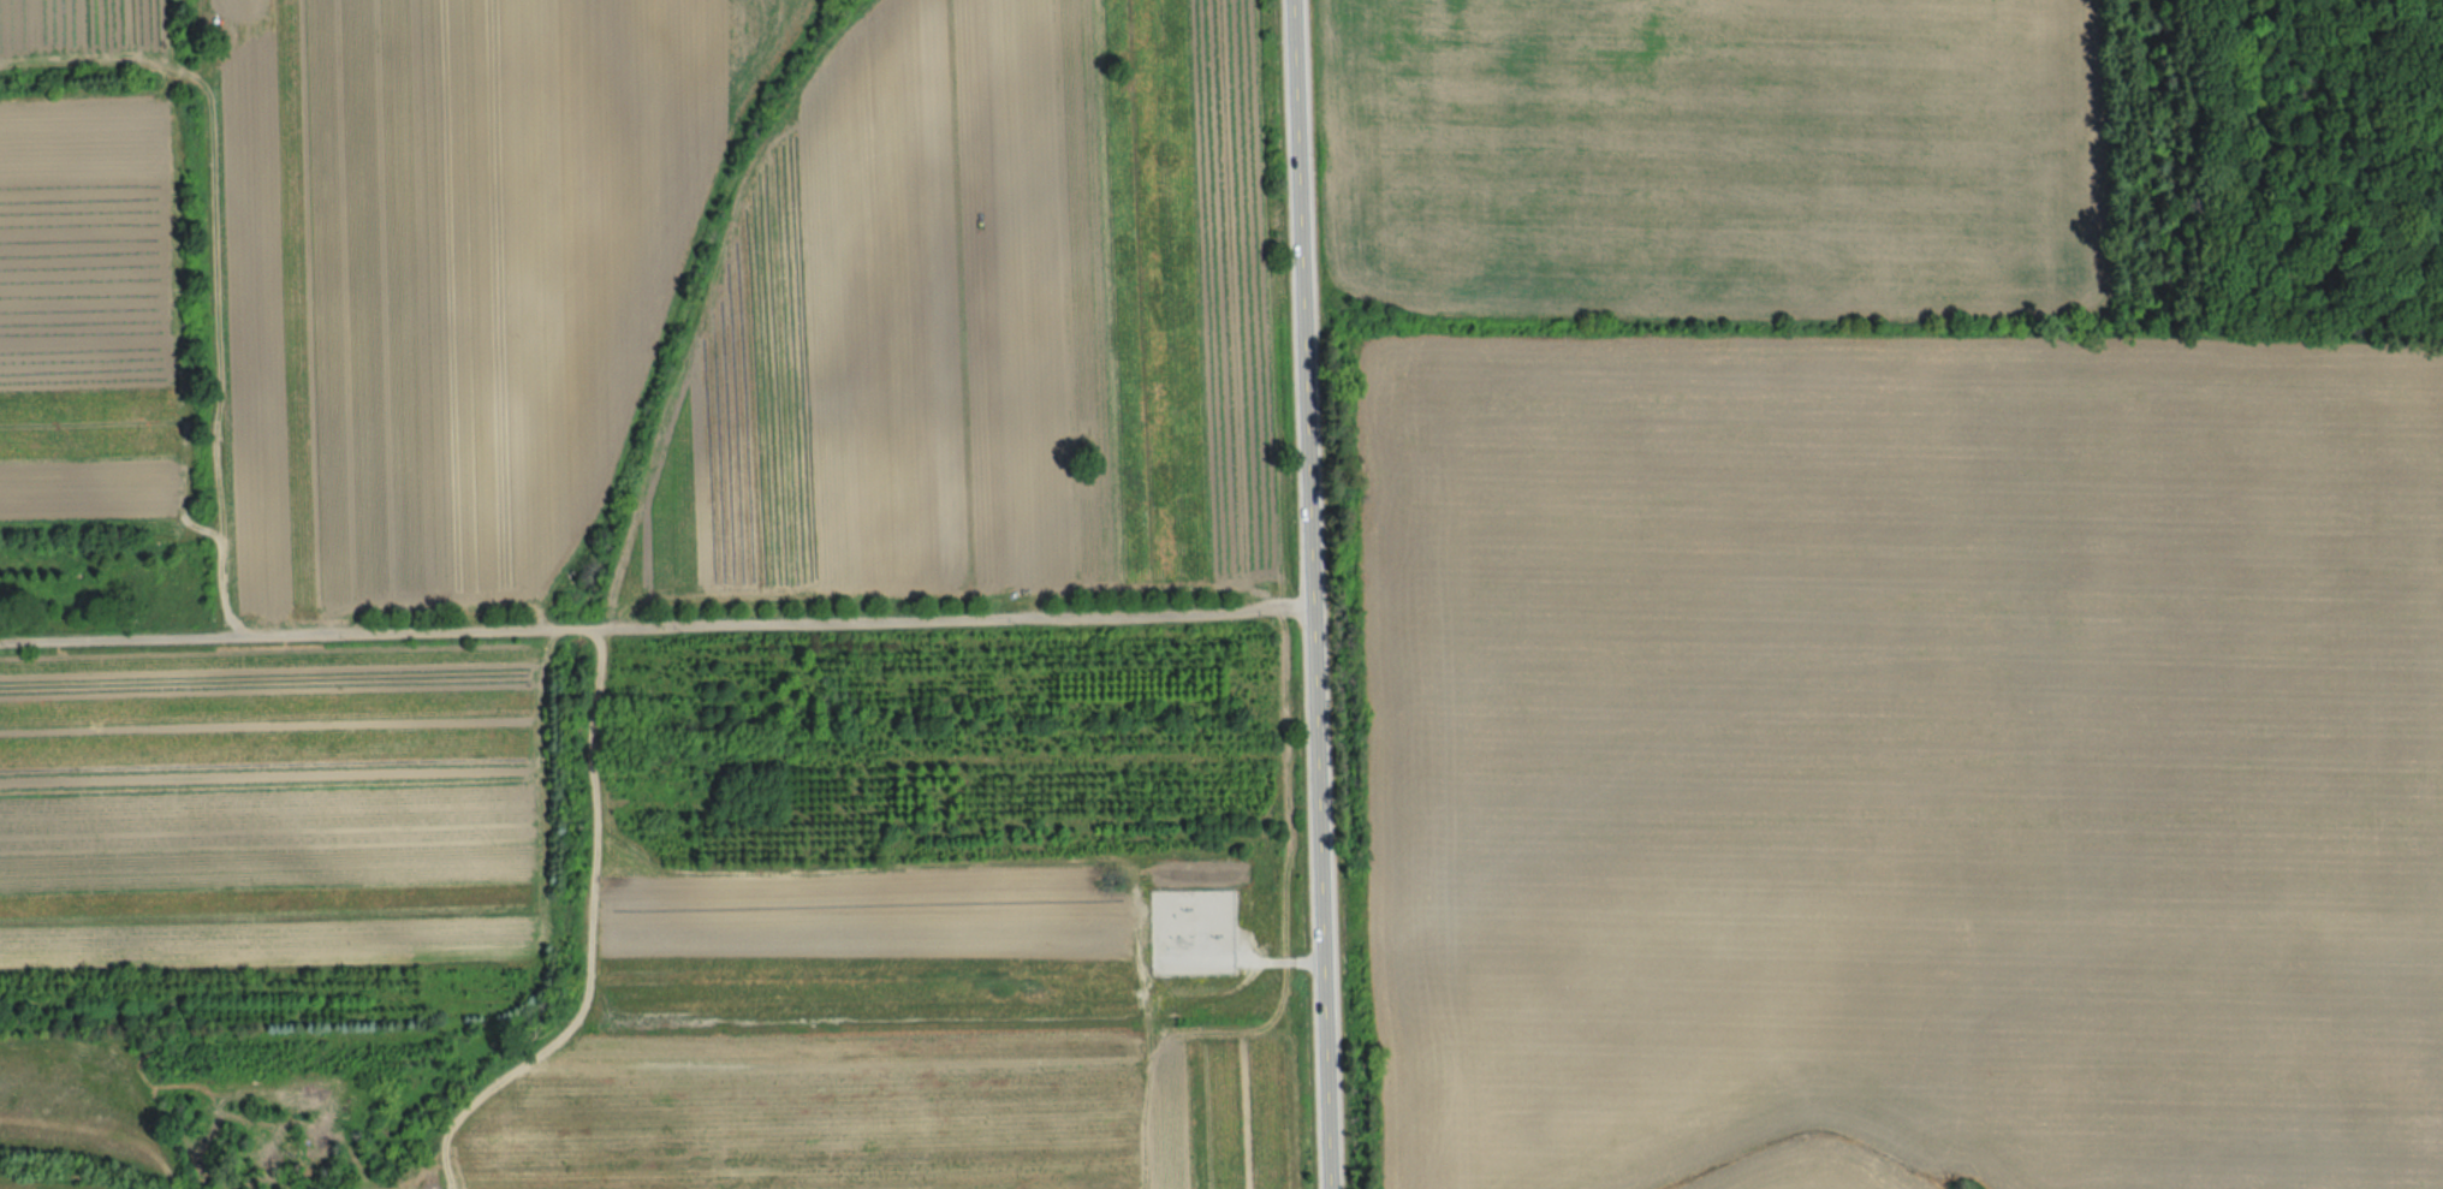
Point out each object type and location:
crop: (93, 25)
crop: (1712, 151)
crop: (454, 272)
crop: (91, 315)
crop: (987, 323)
road: (1302, 594)
road: (650, 628)
crop: (1901, 765)
crop: (278, 826)
crop: (838, 1040)
crop: (1246, 1092)

